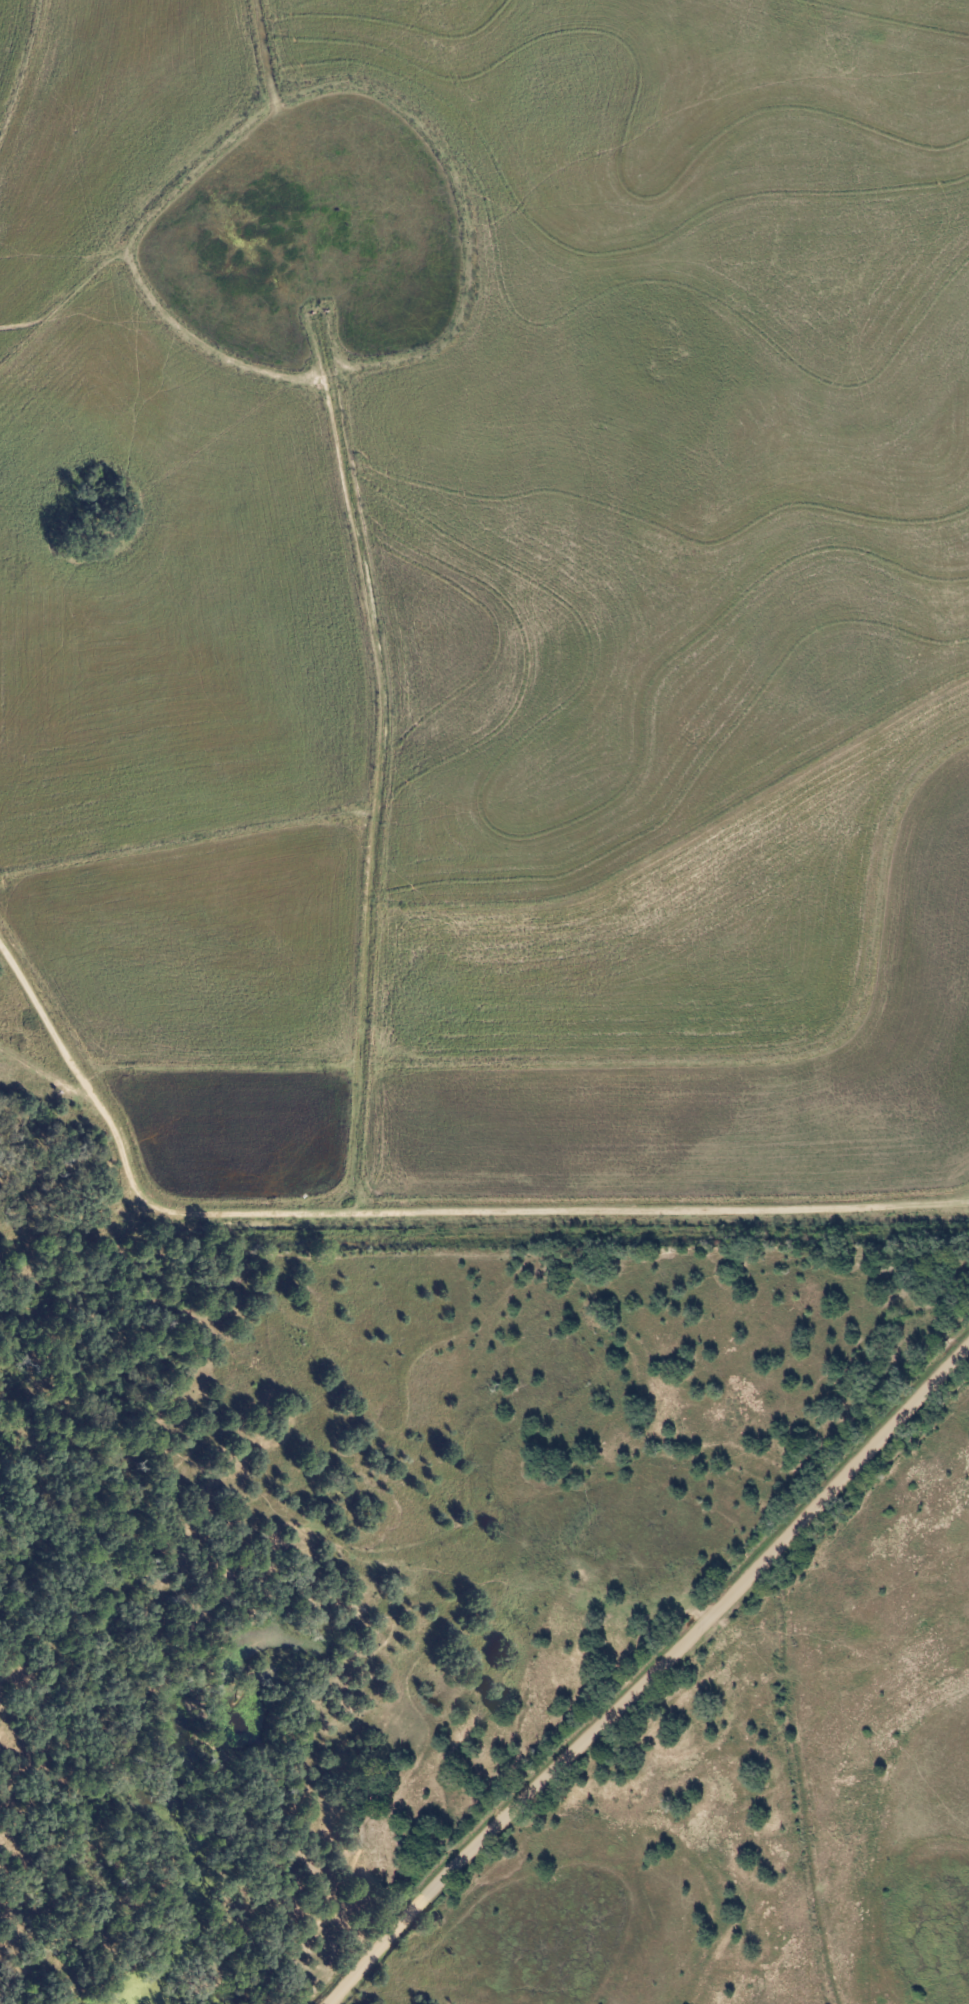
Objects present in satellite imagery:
road: (653, 1678)

